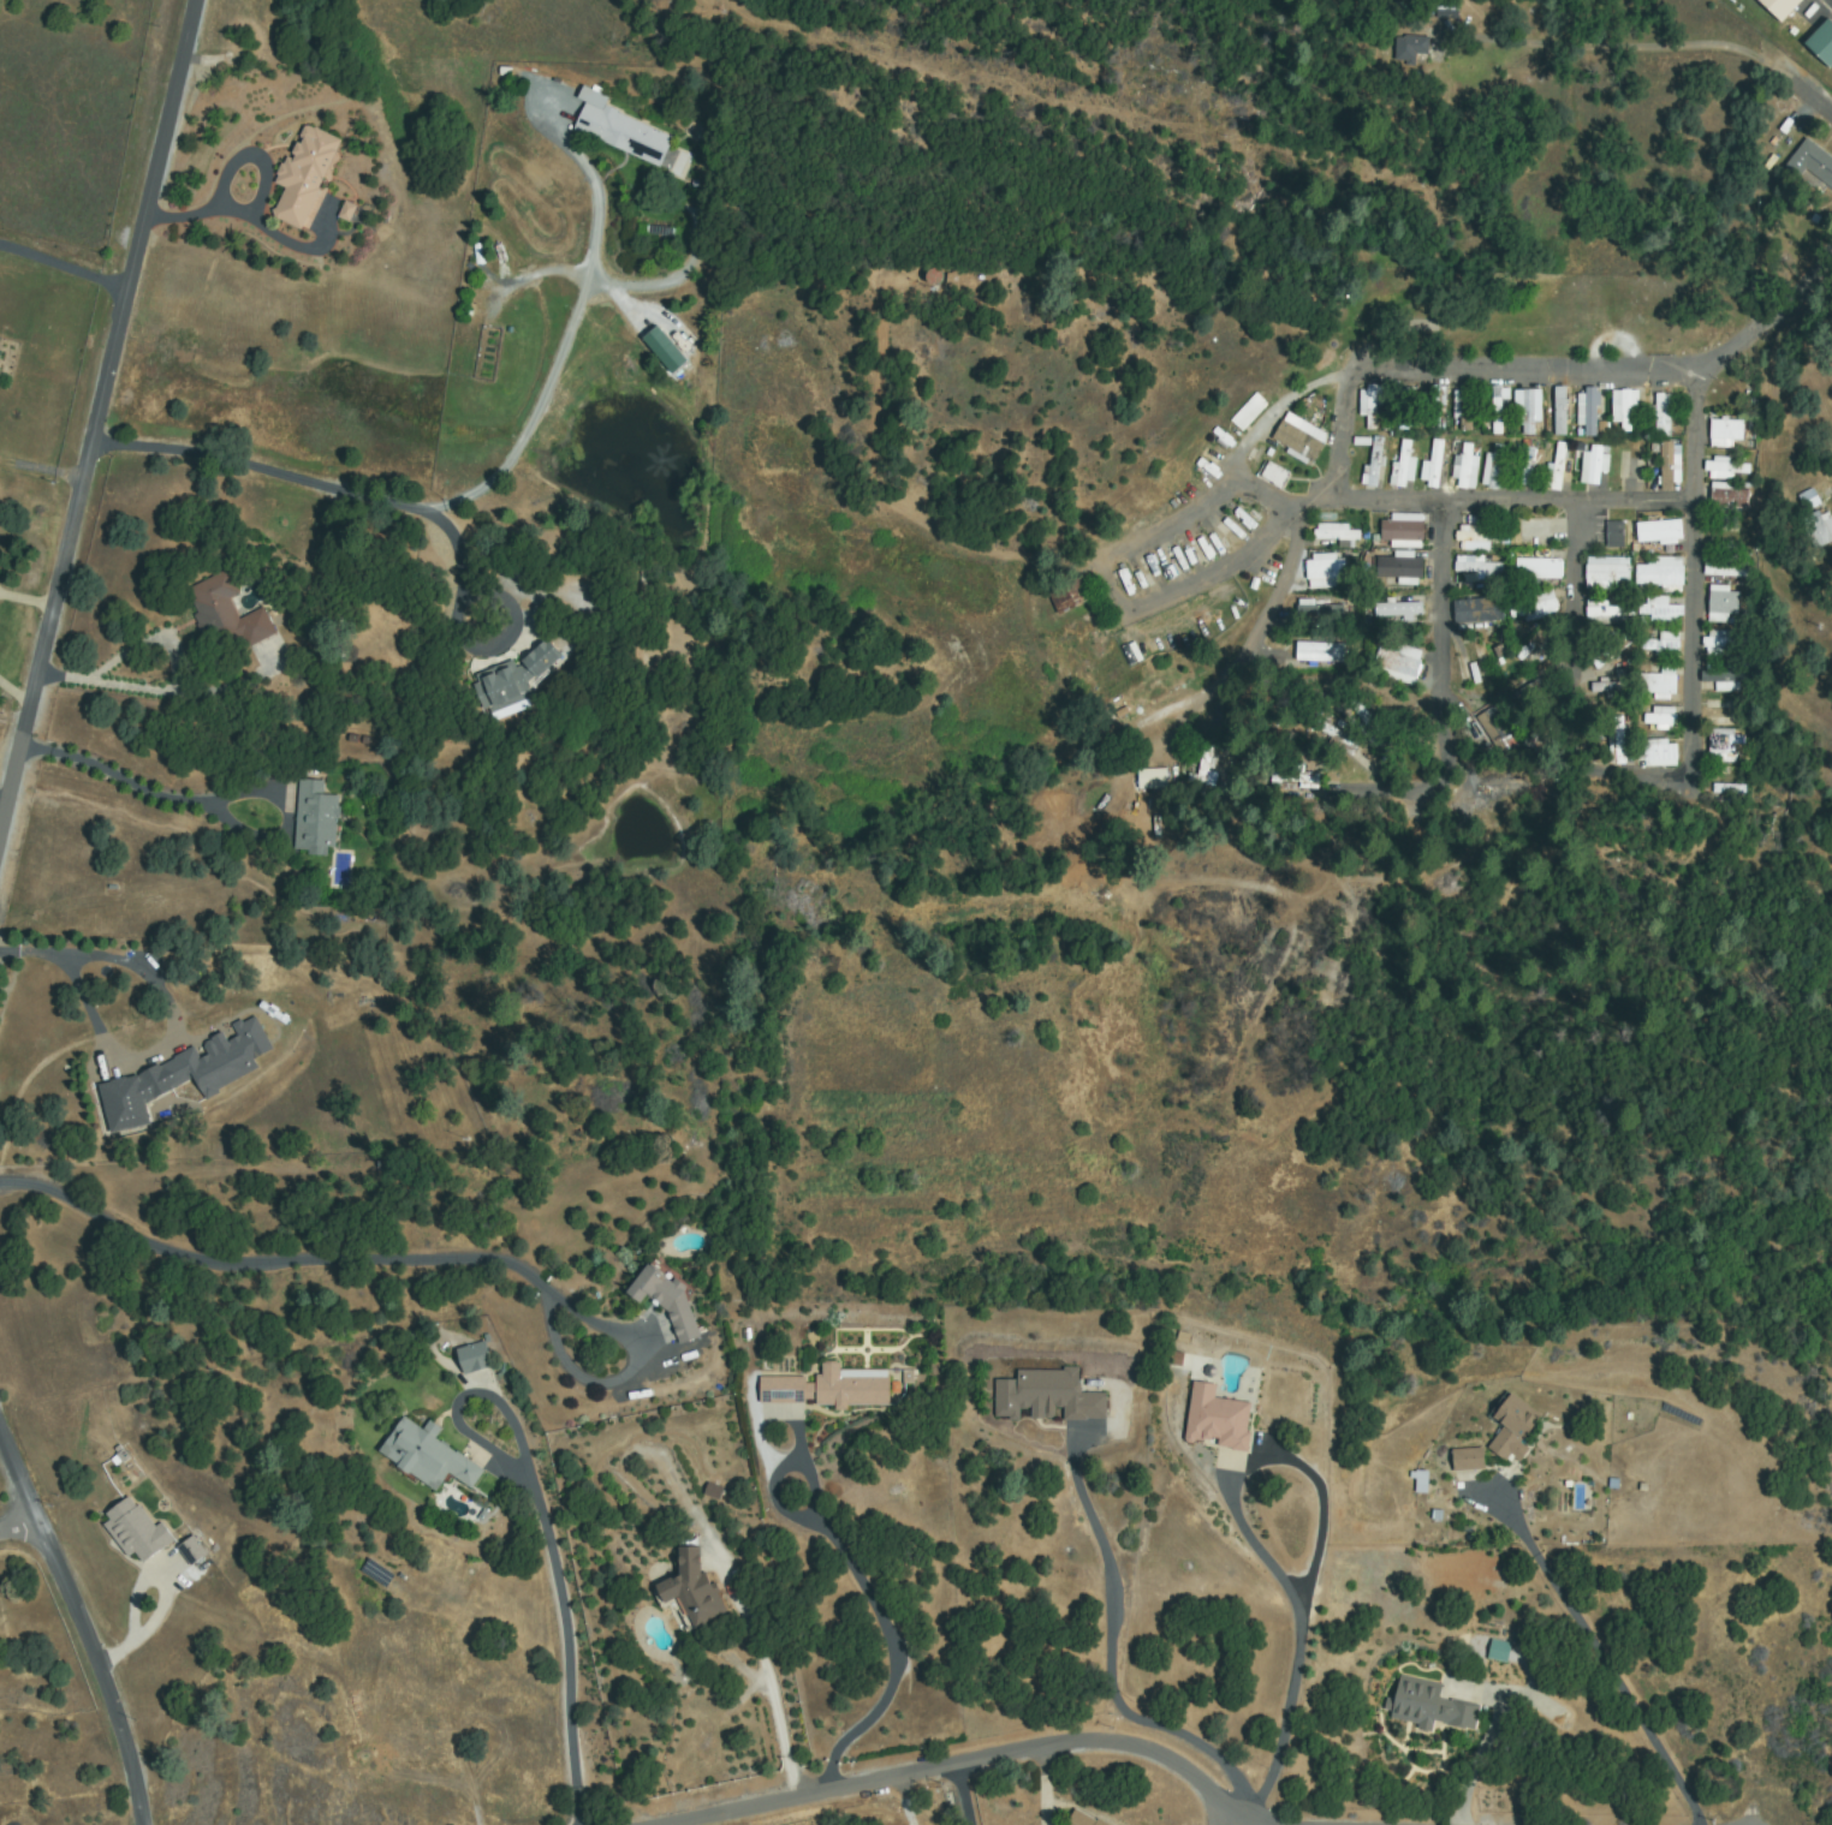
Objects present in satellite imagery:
building: (1776, 7)
building: (1449, 10)
airport: (1789, 32)
building: (1824, 41)
building: (1409, 48)
road: (1664, 71)
road: (1828, 113)
building: (624, 133)
building: (1812, 160)
building: (304, 177)
building: (676, 358)
road: (1462, 378)
building: (1370, 404)
building: (1434, 405)
road: (96, 407)
building: (1404, 408)
building: (1465, 408)
building: (1626, 410)
building: (1499, 411)
building: (1560, 411)
building: (1661, 411)
building: (1249, 412)
building: (1528, 412)
building: (1590, 413)
building: (1727, 433)
building: (1299, 440)
building: (1435, 463)
building: (1375, 464)
building: (1404, 464)
building: (1670, 464)
building: (1524, 465)
building: (1494, 466)
building: (1557, 466)
building: (1594, 466)
building: (1631, 466)
building: (1468, 467)
building: (1530, 467)
building: (1729, 469)
building: (1275, 475)
road: (1691, 487)
building: (1727, 500)
building: (1809, 500)
road: (1513, 505)
building: (1816, 530)
building: (1404, 531)
building: (1660, 532)
building: (1337, 535)
building: (1616, 535)
building: (1479, 538)
building: (1527, 538)
road: (1249, 559)
building: (1479, 567)
building: (1726, 567)
building: (1400, 568)
building: (1540, 569)
road: (1439, 571)
building: (1325, 572)
building: (1607, 572)
building: (1663, 574)
road: (1574, 580)
building: (1071, 596)
building: (1724, 606)
building: (1535, 608)
building: (1399, 609)
building: (1479, 610)
building: (1614, 610)
building: (1661, 610)
building: (1319, 613)
building: (227, 614)
building: (1724, 642)
building: (1665, 645)
building: (1613, 651)
building: (1320, 652)
building: (1474, 664)
building: (1396, 666)
building: (514, 678)
building: (1726, 678)
building: (1659, 684)
building: (1610, 686)
building: (1525, 693)
building: (1725, 712)
building: (1663, 716)
building: (1367, 724)
building: (1495, 730)
building: (1537, 734)
building: (1337, 738)
building: (1620, 744)
building: (1726, 746)
building: (1658, 753)
building: (1202, 771)
building: (1292, 776)
building: (1152, 779)
building: (1504, 782)
building: (1550, 787)
building: (1729, 788)
building: (1479, 797)
building: (316, 819)
building: (184, 1076)
building: (667, 1301)
building: (475, 1359)
building: (833, 1389)
building: (1048, 1395)
building: (1218, 1419)
building: (1513, 1429)
building: (428, 1457)
building: (1469, 1460)
building: (1416, 1480)
road: (17, 1526)
building: (137, 1531)
building: (192, 1550)
building: (691, 1592)
road: (76, 1627)
building: (1500, 1651)
building: (1429, 1705)
road: (974, 1764)
building: (1083, 1820)

